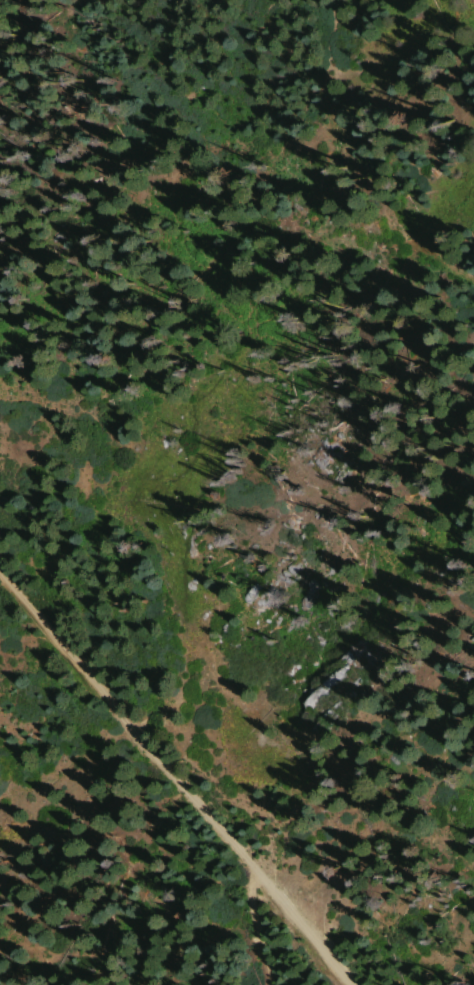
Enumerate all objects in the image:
road: (312, 195)
road: (179, 778)
road: (255, 926)

